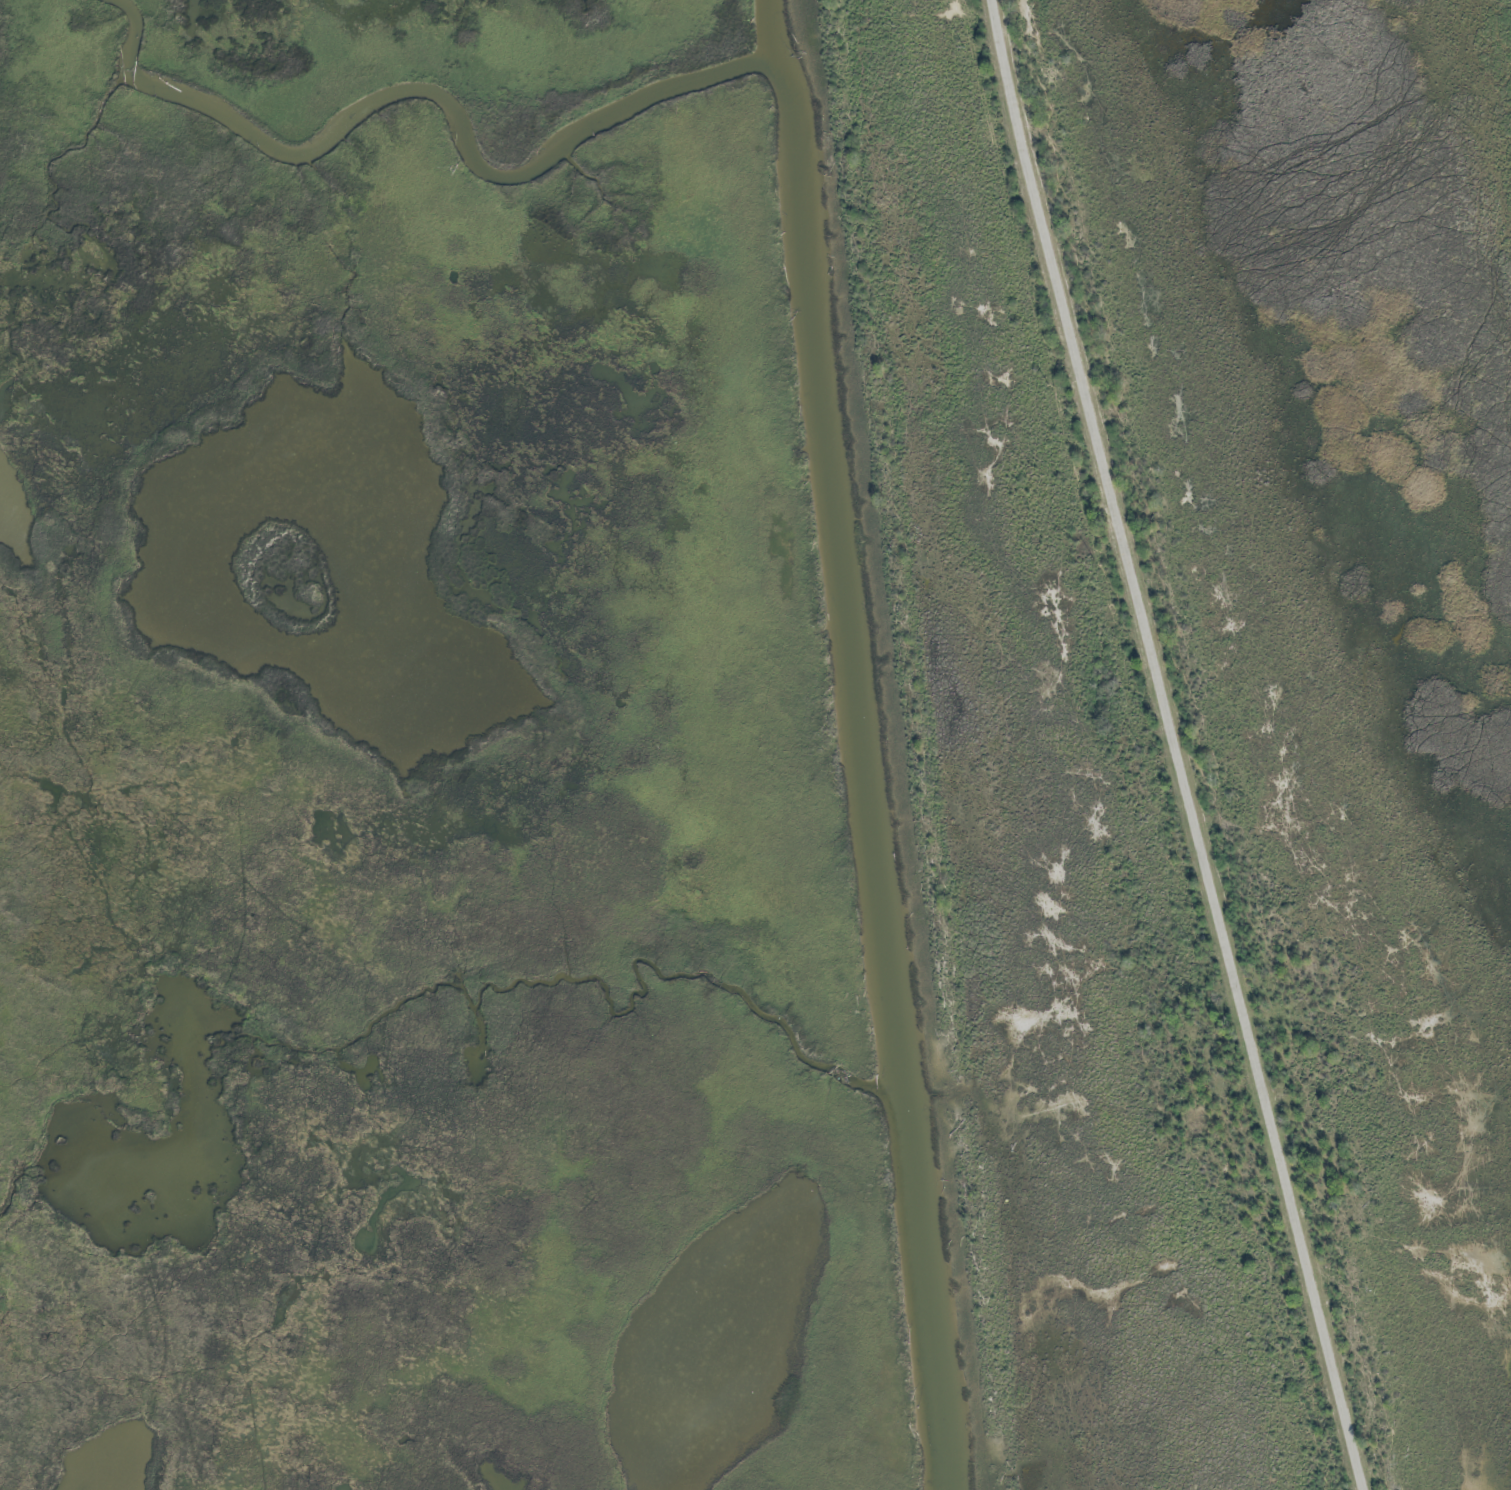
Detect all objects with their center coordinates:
road: (1176, 745)

